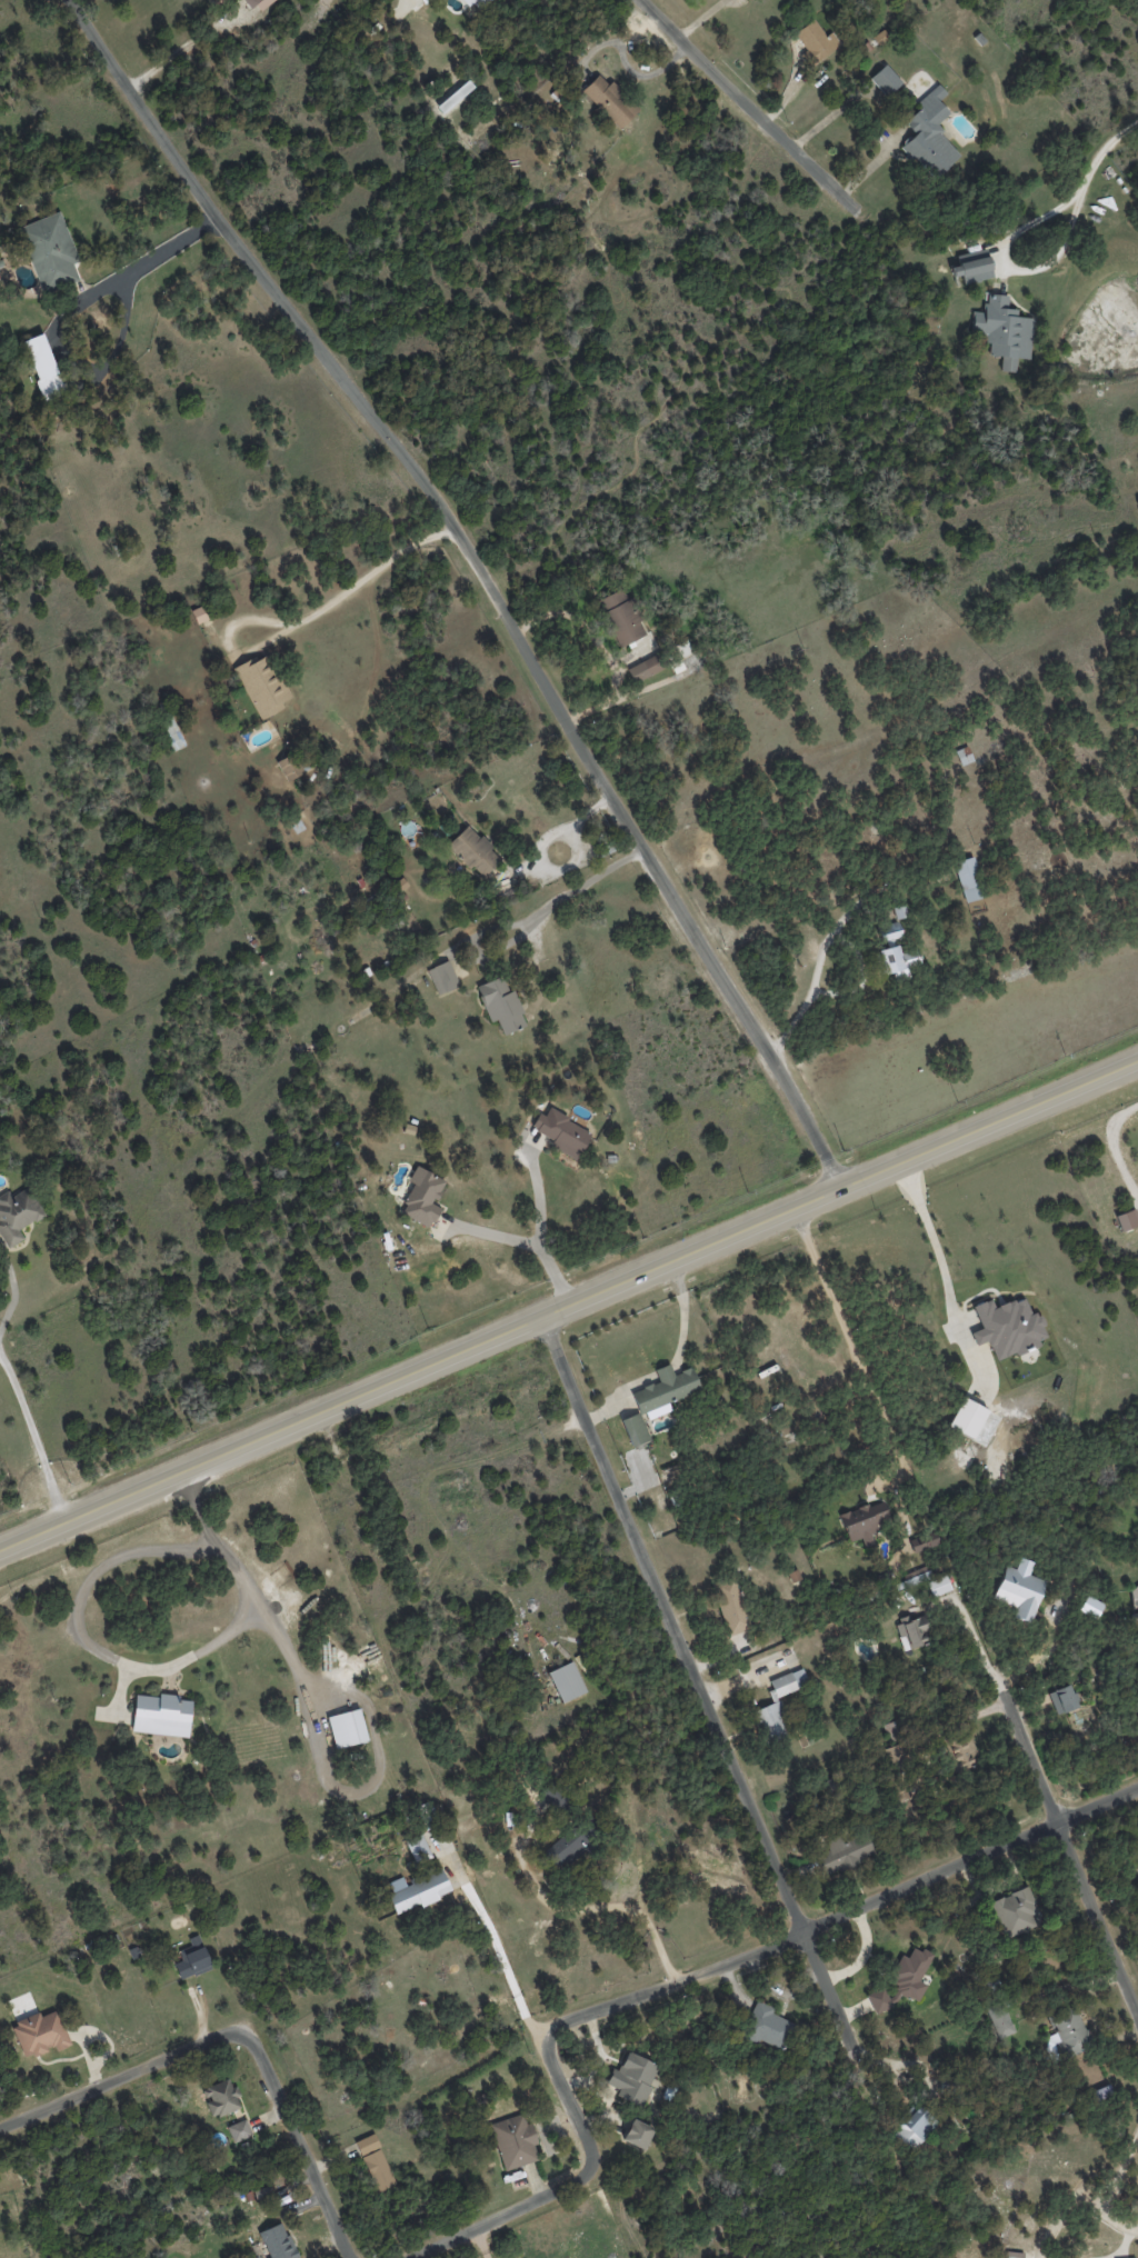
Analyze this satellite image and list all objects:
building: (422, 0)
building: (477, 3)
building: (259, 4)
building: (813, 40)
building: (885, 80)
building: (455, 96)
building: (609, 100)
road: (748, 108)
building: (930, 134)
road: (1102, 154)
building: (49, 250)
road: (152, 258)
building: (971, 268)
road: (1012, 273)
building: (1004, 331)
building: (43, 367)
road: (483, 575)
road: (358, 581)
building: (199, 615)
building: (620, 617)
building: (645, 668)
building: (262, 685)
road: (621, 695)
building: (964, 756)
building: (291, 767)
road: (551, 833)
building: (475, 851)
building: (969, 879)
building: (398, 885)
road: (543, 908)
building: (899, 911)
building: (889, 931)
road: (826, 943)
building: (897, 961)
building: (442, 977)
building: (501, 1005)
building: (560, 1131)
building: (422, 1197)
road: (542, 1200)
building: (17, 1216)
building: (1122, 1216)
road: (530, 1241)
road: (937, 1256)
road: (569, 1305)
building: (1009, 1328)
road: (0, 1346)
road: (856, 1353)
road: (672, 1365)
building: (665, 1388)
road: (18, 1389)
building: (675, 1403)
building: (970, 1419)
building: (635, 1429)
building: (640, 1469)
building: (860, 1513)
building: (924, 1542)
building: (938, 1586)
building: (1019, 1588)
building: (1134, 1597)
building: (730, 1606)
building: (1090, 1607)
building: (912, 1647)
road: (143, 1668)
building: (571, 1681)
building: (781, 1682)
road: (698, 1685)
building: (1062, 1696)
building: (167, 1712)
building: (766, 1725)
building: (349, 1727)
building: (965, 1771)
building: (845, 1832)
building: (417, 1848)
road: (1069, 1850)
building: (576, 1856)
building: (1136, 1858)
building: (421, 1892)
building: (1014, 1912)
road: (838, 1916)
building: (194, 1961)
building: (908, 1977)
building: (999, 2019)
building: (768, 2024)
building: (41, 2028)
road: (238, 2030)
building: (1068, 2031)
road: (541, 2046)
building: (640, 2077)
building: (222, 2094)
building: (246, 2130)
building: (919, 2130)
building: (645, 2139)
building: (517, 2141)
building: (378, 2165)
road: (503, 2215)
road: (1131, 2235)
building: (280, 2242)
road: (482, 2242)
building: (1106, 2256)

